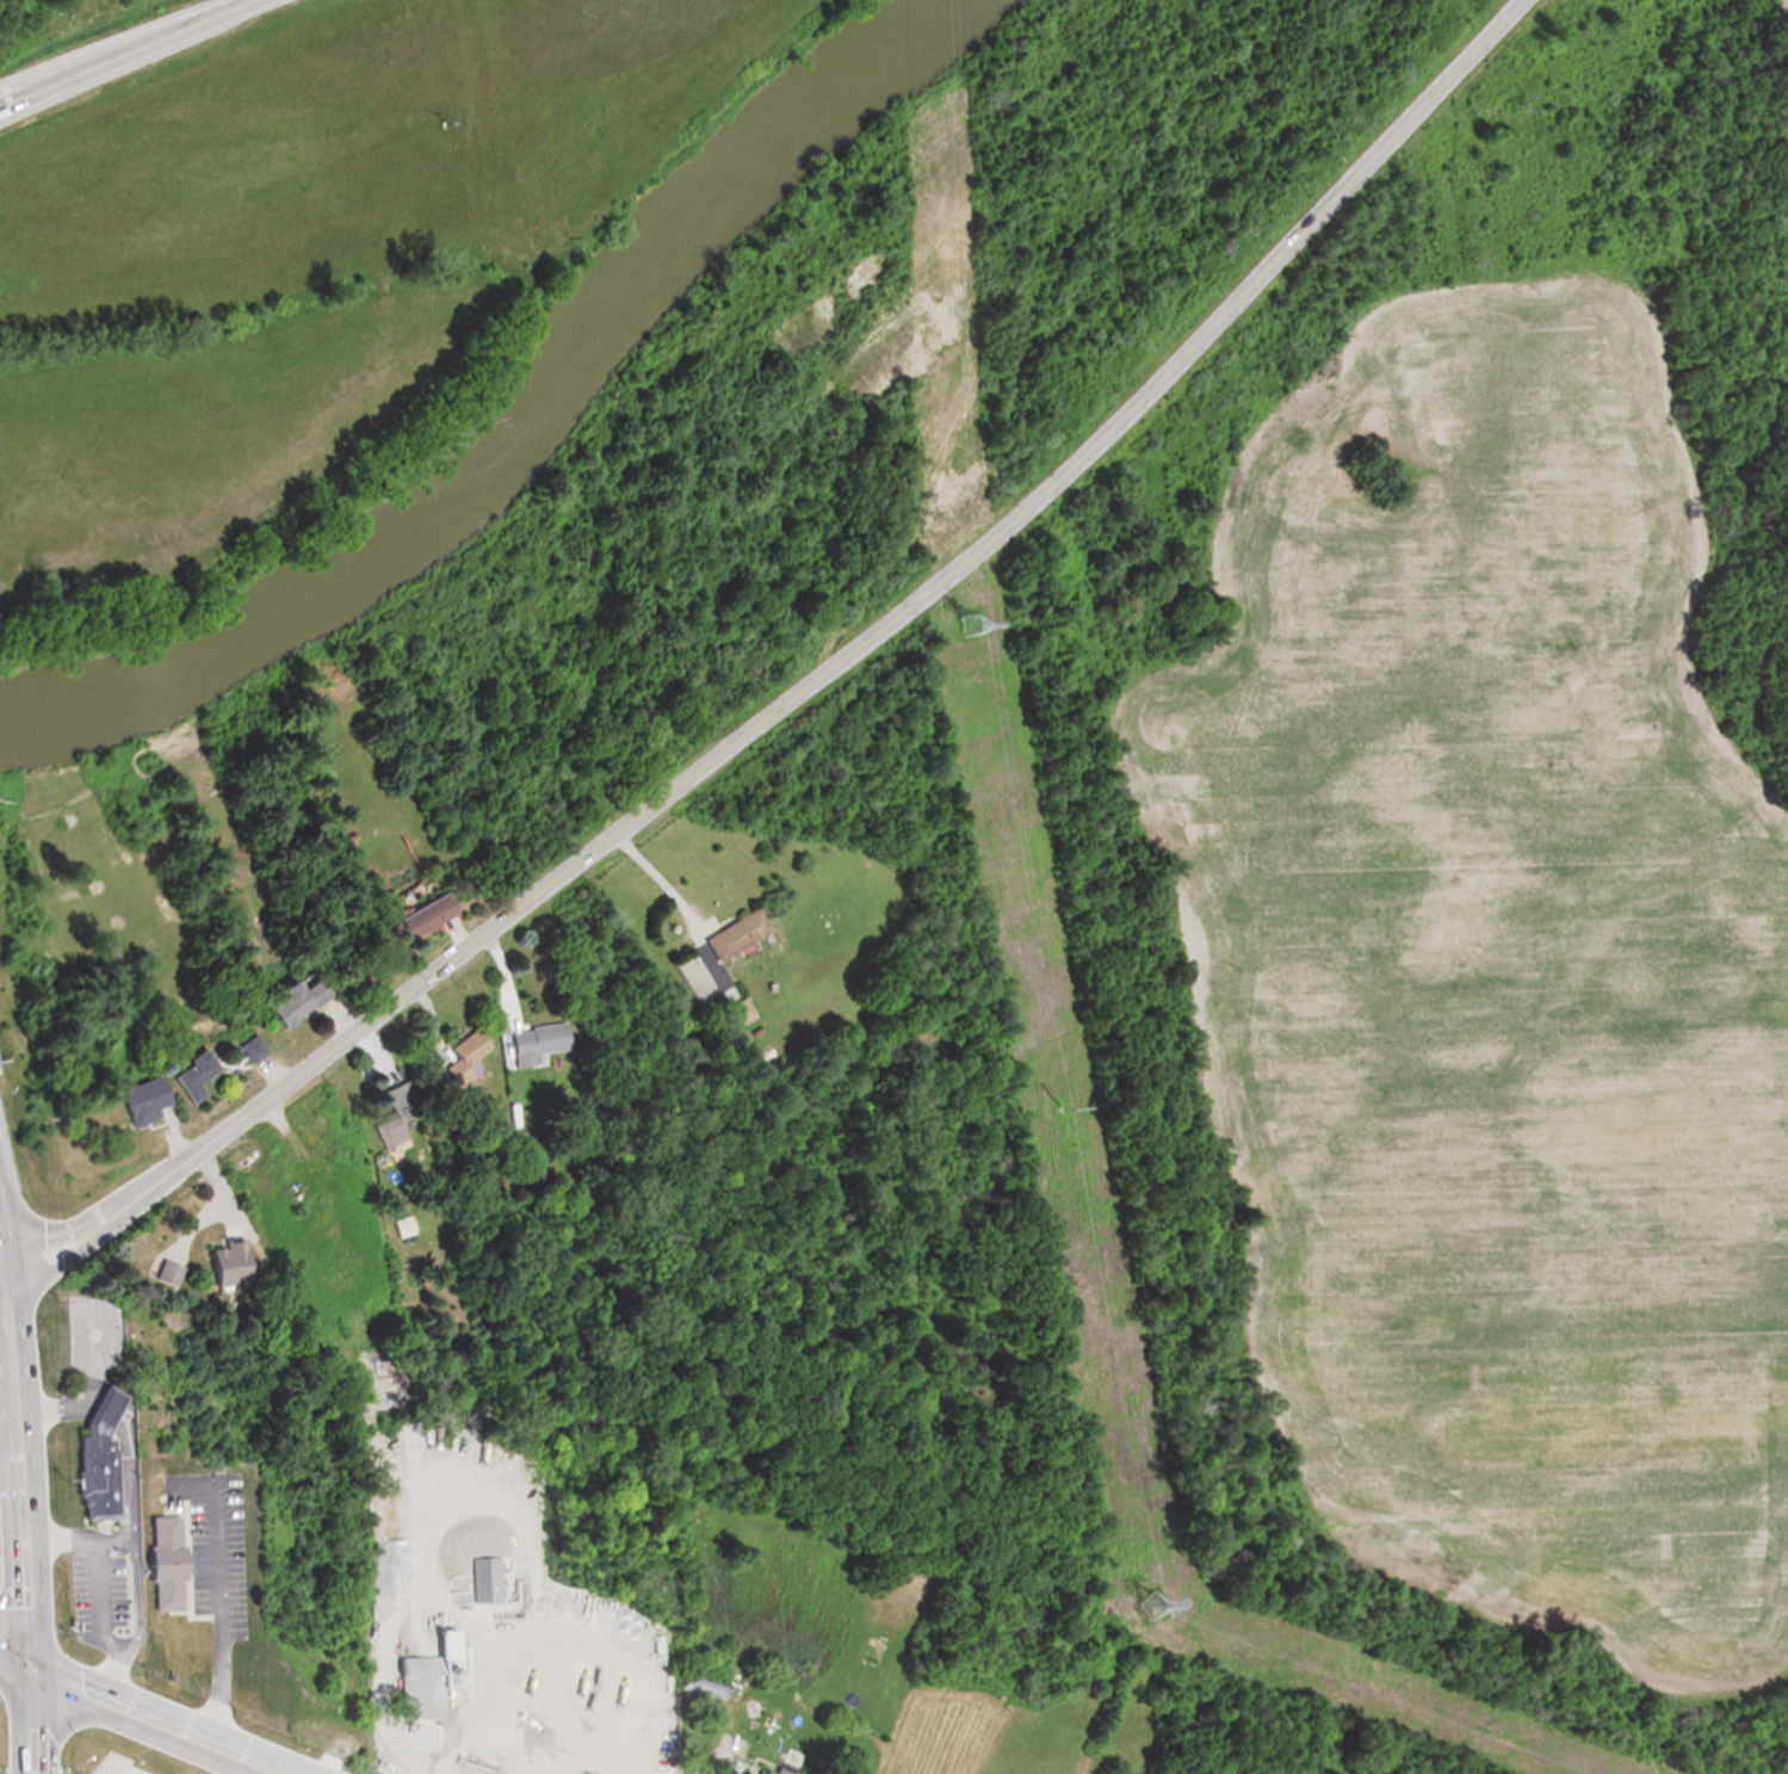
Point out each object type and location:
road: (118, 50)
river: (515, 424)
power tower: (964, 624)
road: (797, 688)
road: (660, 884)
building: (417, 915)
building: (732, 933)
building: (688, 975)
building: (290, 1001)
building: (737, 1010)
building: (534, 1041)
building: (240, 1050)
building: (459, 1057)
building: (187, 1074)
building: (134, 1100)
power tower: (1060, 1106)
building: (395, 1113)
building: (403, 1225)
building: (223, 1263)
building: (165, 1272)
road: (5, 1298)
road: (58, 1403)
road: (111, 1415)
building: (104, 1458)
road: (19, 1506)
road: (124, 1526)
building: (171, 1562)
building: (487, 1578)
road: (431, 1591)
power tower: (1147, 1605)
road: (222, 1617)
road: (101, 1619)
building: (422, 1676)
road: (143, 1713)
road: (509, 1731)
road: (719, 1756)
building: (771, 1772)
road: (283, 1773)

